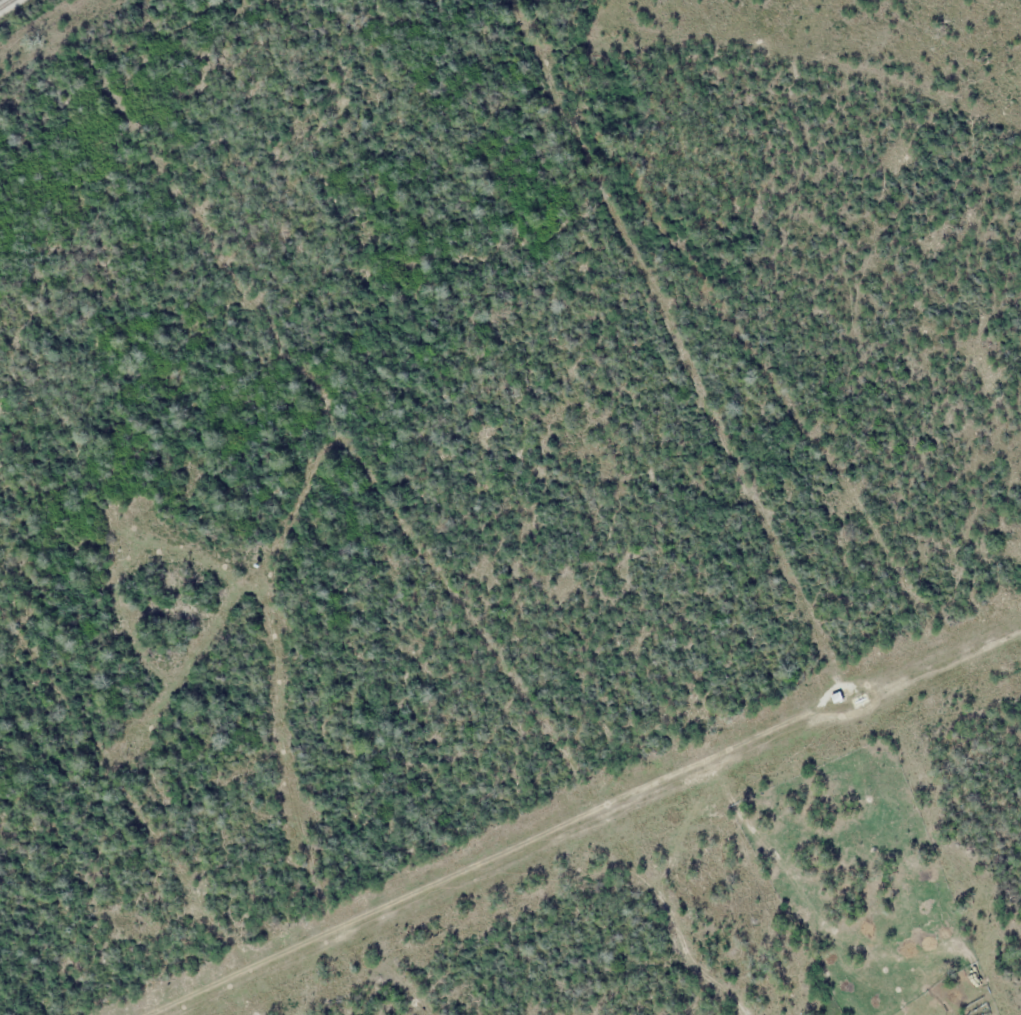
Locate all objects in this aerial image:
railway: (7, 4)
building: (936, 989)

